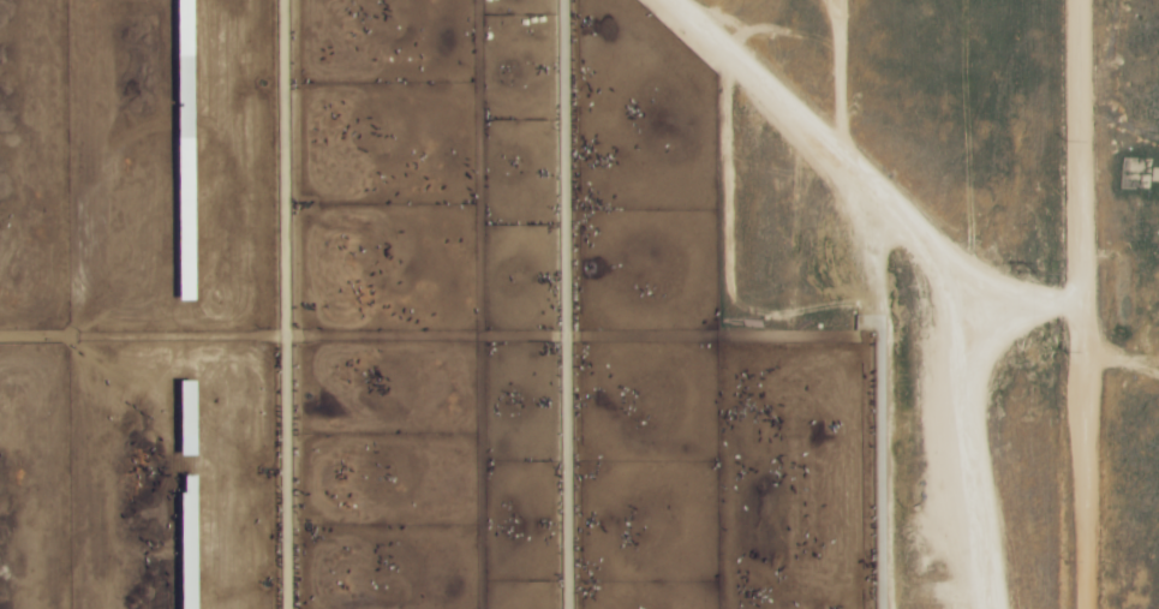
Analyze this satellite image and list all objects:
road: (868, 184)
power tower: (1024, 268)
road: (1093, 304)
road: (966, 450)

